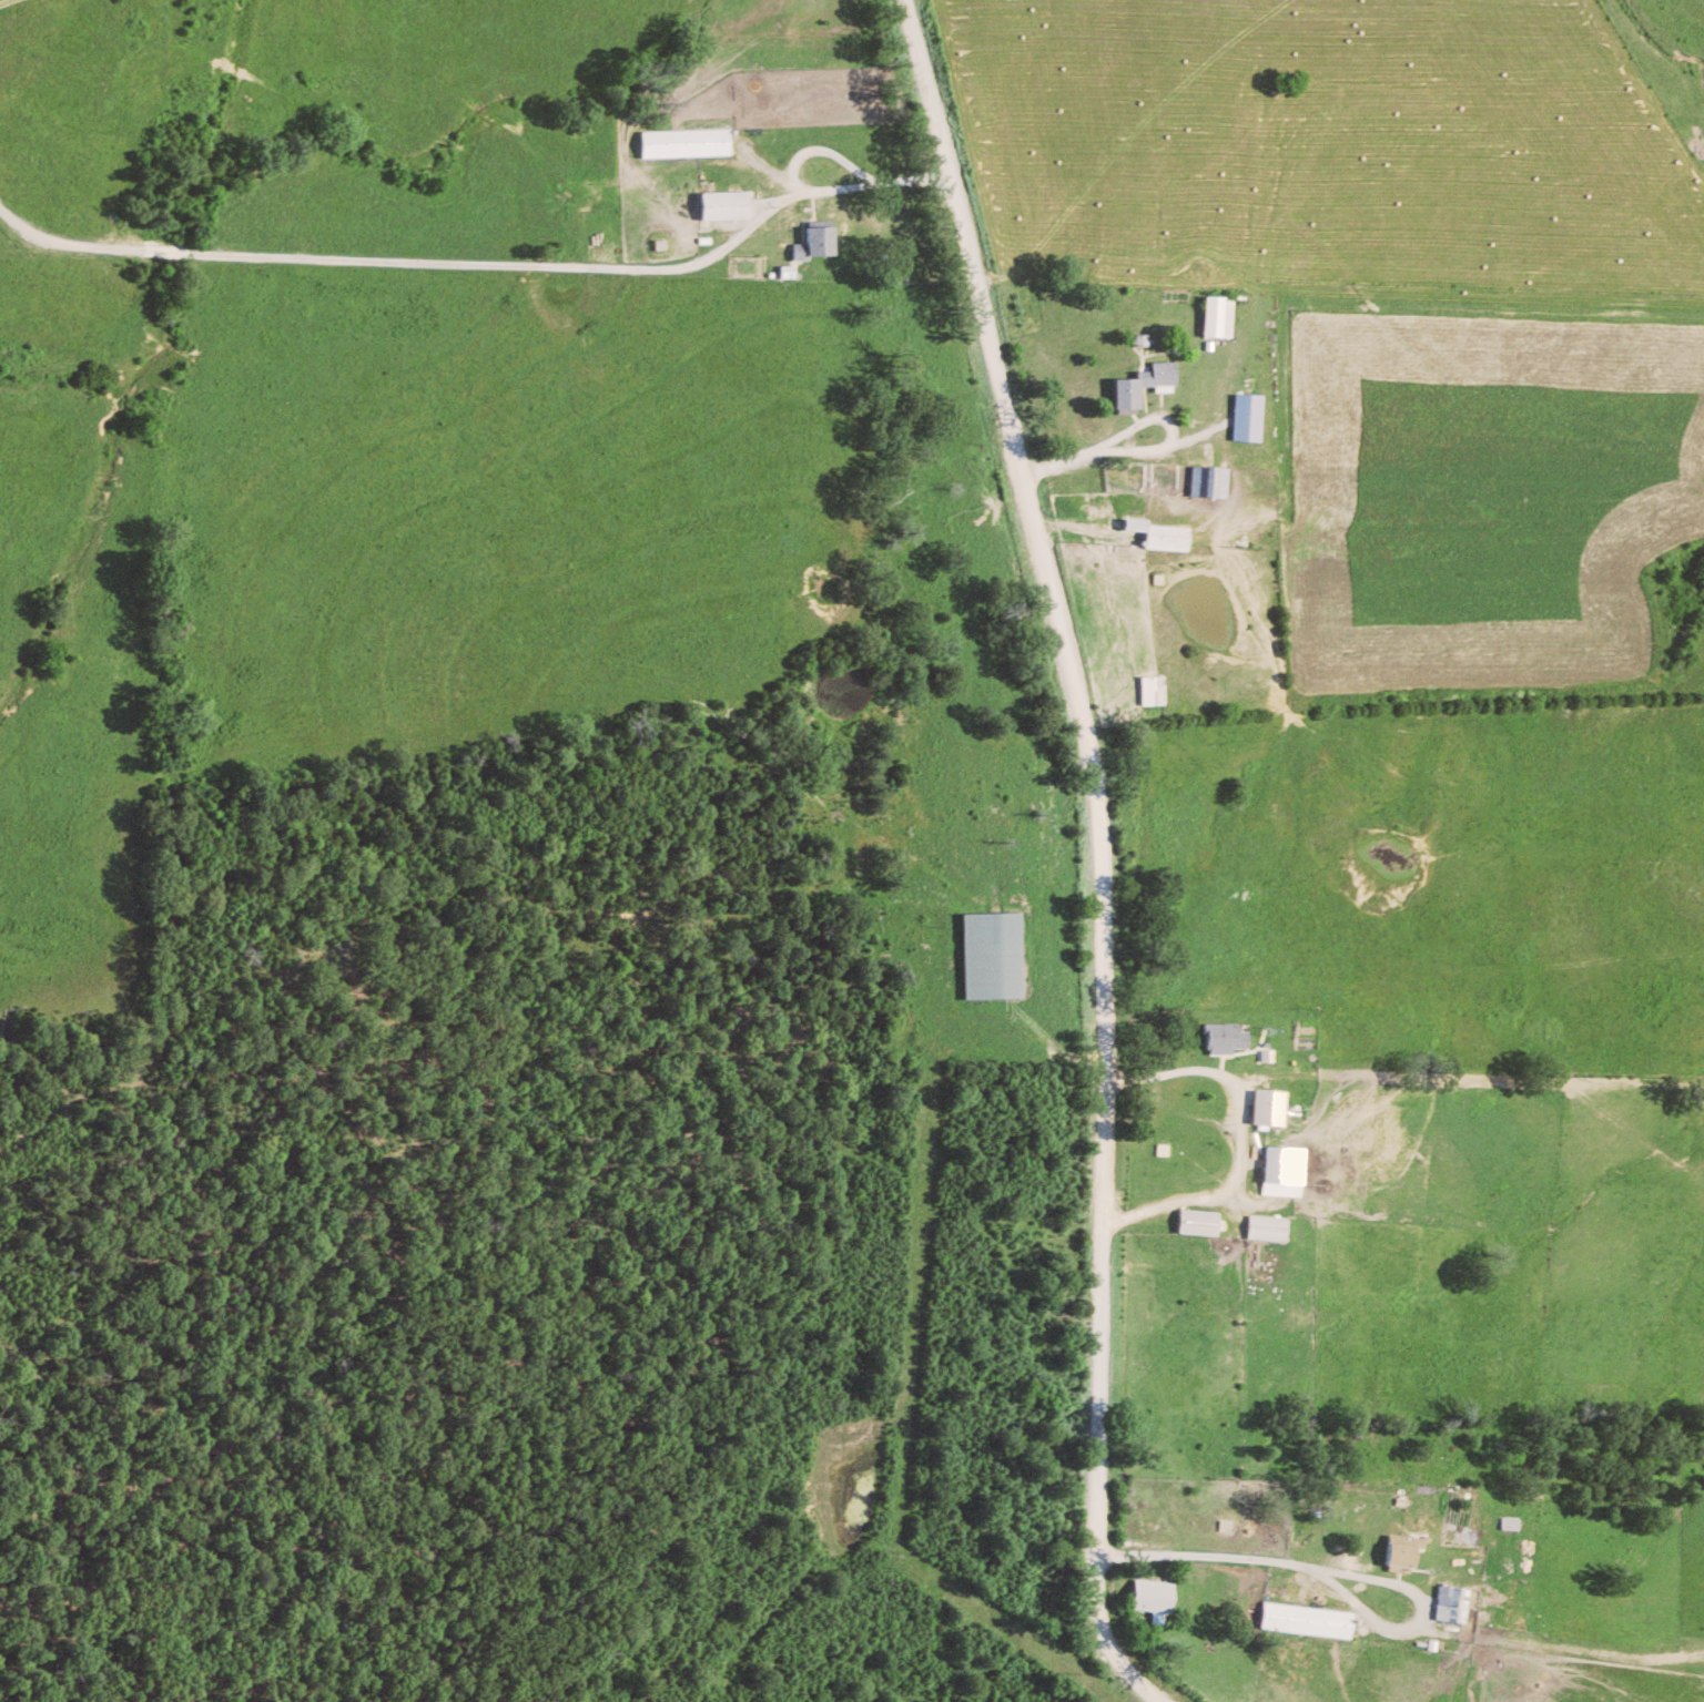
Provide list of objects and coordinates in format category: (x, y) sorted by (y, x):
building: (689, 144)
building: (727, 206)
building: (822, 242)
building: (1221, 315)
building: (1147, 383)
building: (1252, 417)
road: (1162, 448)
building: (1214, 480)
building: (1165, 533)
building: (1157, 689)
road: (1094, 848)
building: (1229, 1037)
building: (1272, 1107)
building: (1287, 1171)
building: (1203, 1222)
building: (1272, 1227)
building: (1406, 1550)
building: (1156, 1599)
building: (1455, 1604)
building: (1311, 1620)

